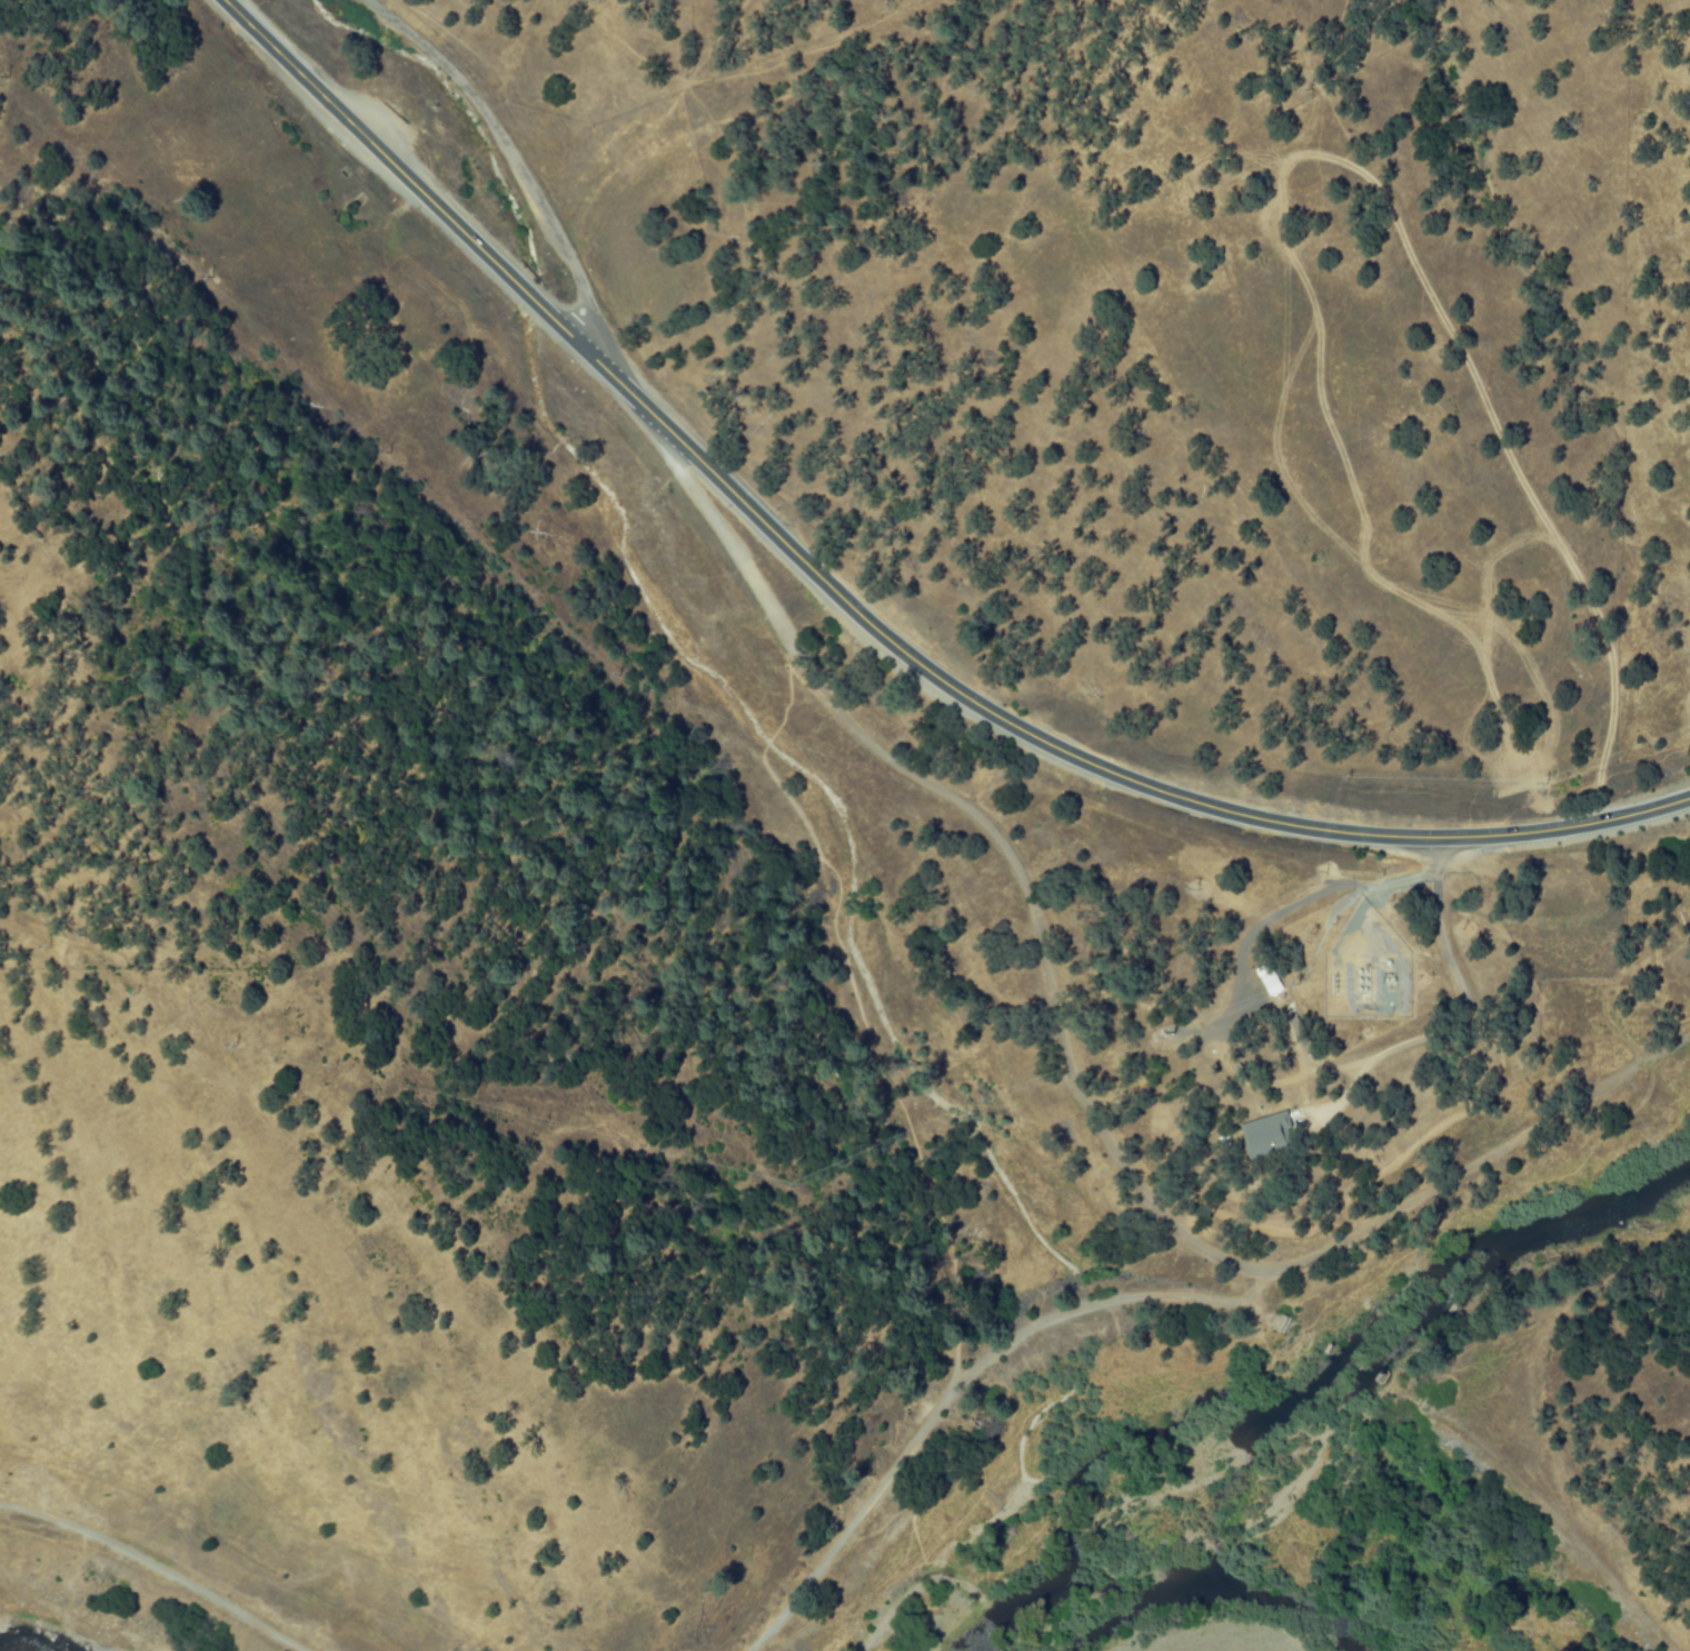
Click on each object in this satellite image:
road: (515, 162)
road: (866, 614)
road: (1008, 848)
power substation: (1376, 984)
road: (1468, 1018)
building: (1270, 1136)
river: (1414, 1312)
road: (964, 1389)
river: (1047, 1560)
road: (152, 1563)
river: (34, 1647)

